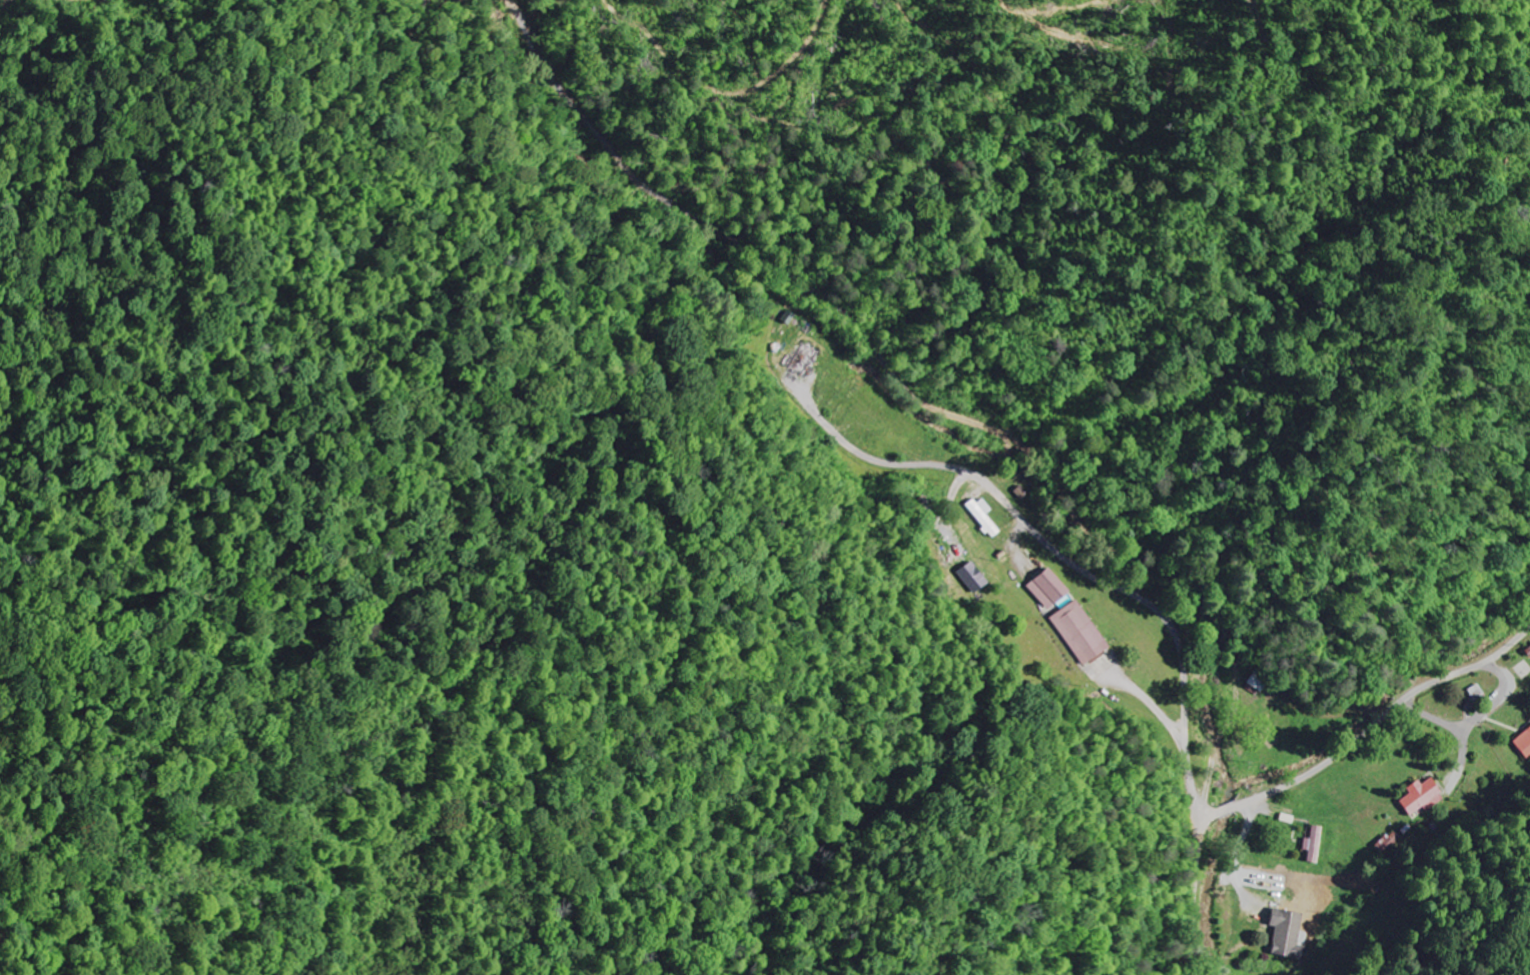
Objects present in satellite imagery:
building: (986, 518)
building: (975, 577)
building: (1048, 589)
building: (1080, 633)
building: (1528, 652)
building: (1258, 680)
building: (1476, 692)
road: (1474, 715)
building: (1524, 744)
road: (1309, 774)
building: (1421, 797)
building: (1387, 842)
building: (1312, 845)
building: (1285, 935)

